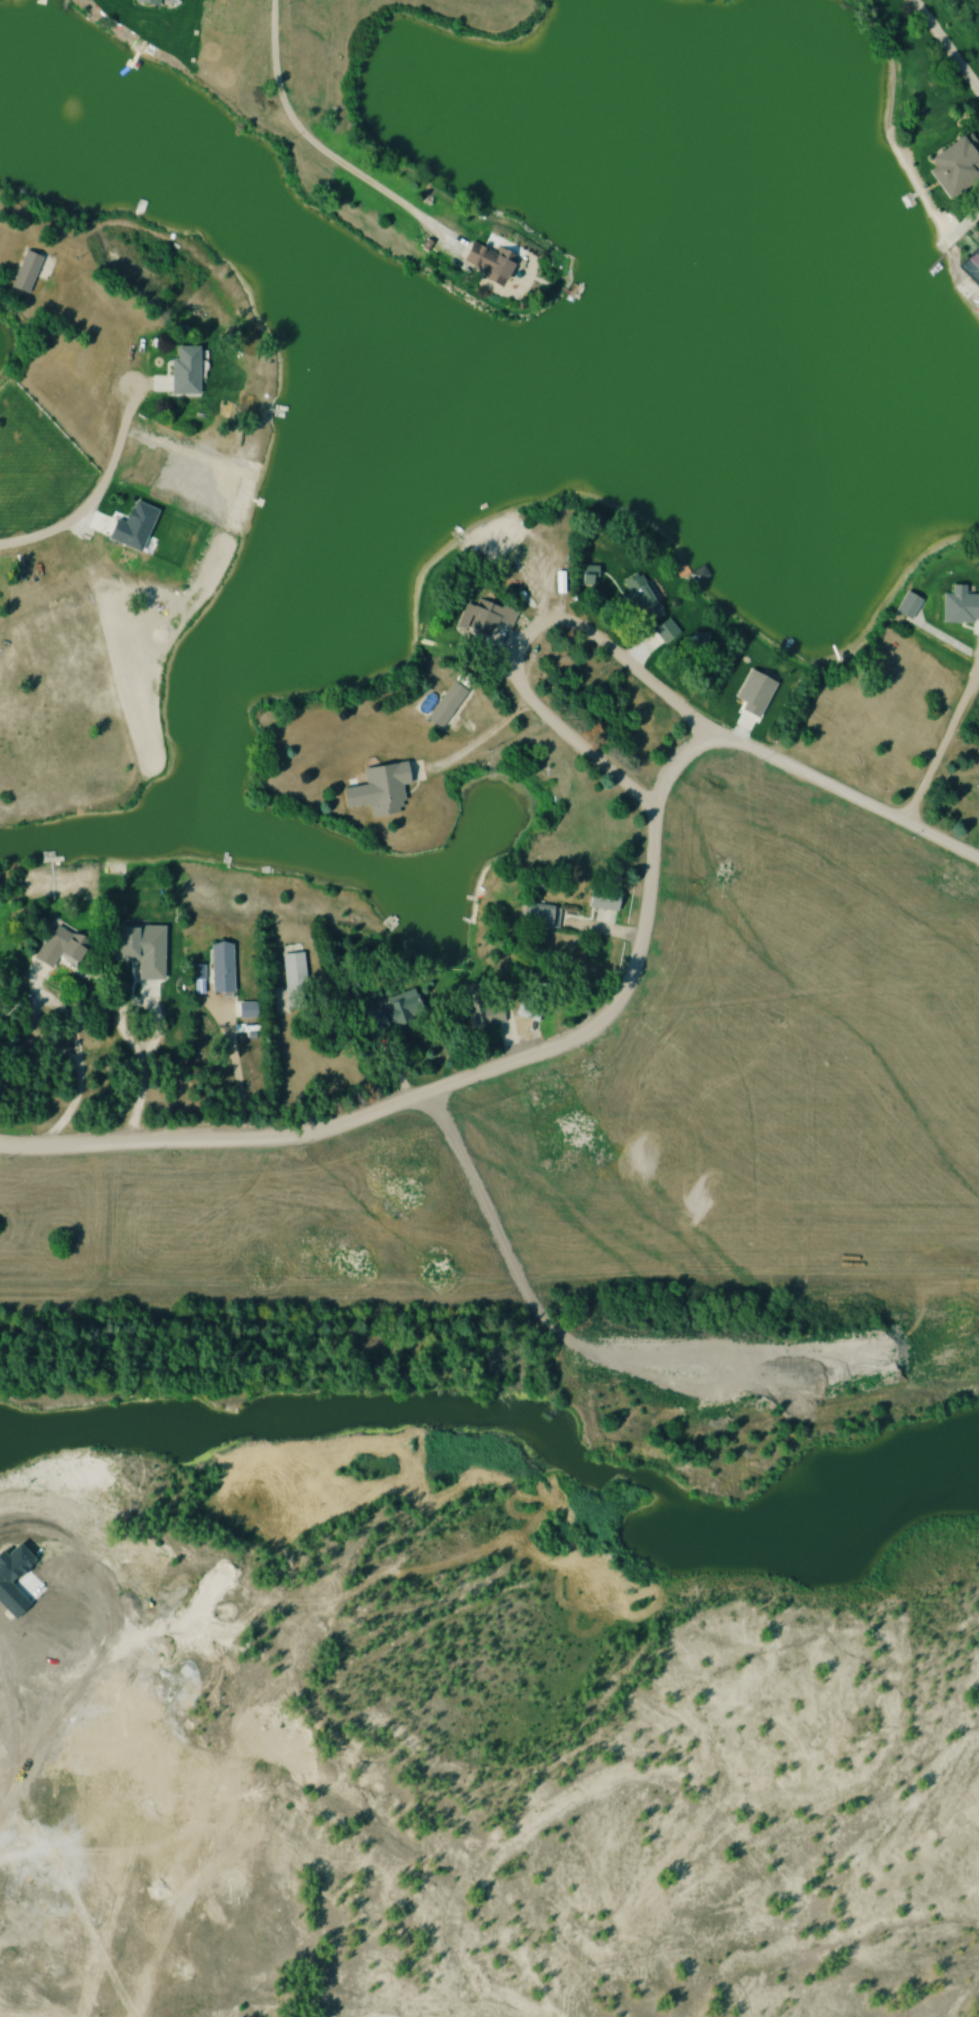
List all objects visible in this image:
building: (147, 2)
road: (944, 46)
road: (321, 149)
building: (955, 166)
road: (962, 225)
building: (485, 265)
building: (24, 272)
building: (182, 372)
road: (94, 491)
building: (585, 574)
building: (640, 597)
building: (907, 605)
building: (959, 605)
building: (478, 618)
building: (663, 630)
road: (523, 639)
building: (445, 704)
road: (477, 738)
road: (940, 747)
building: (376, 789)
building: (538, 916)
building: (57, 945)
building: (137, 948)
building: (219, 967)
building: (289, 984)
road: (56, 1001)
building: (401, 1006)
building: (482, 1008)
building: (526, 1008)
road: (597, 1019)
building: (374, 1020)
road: (234, 1068)
road: (69, 1107)

